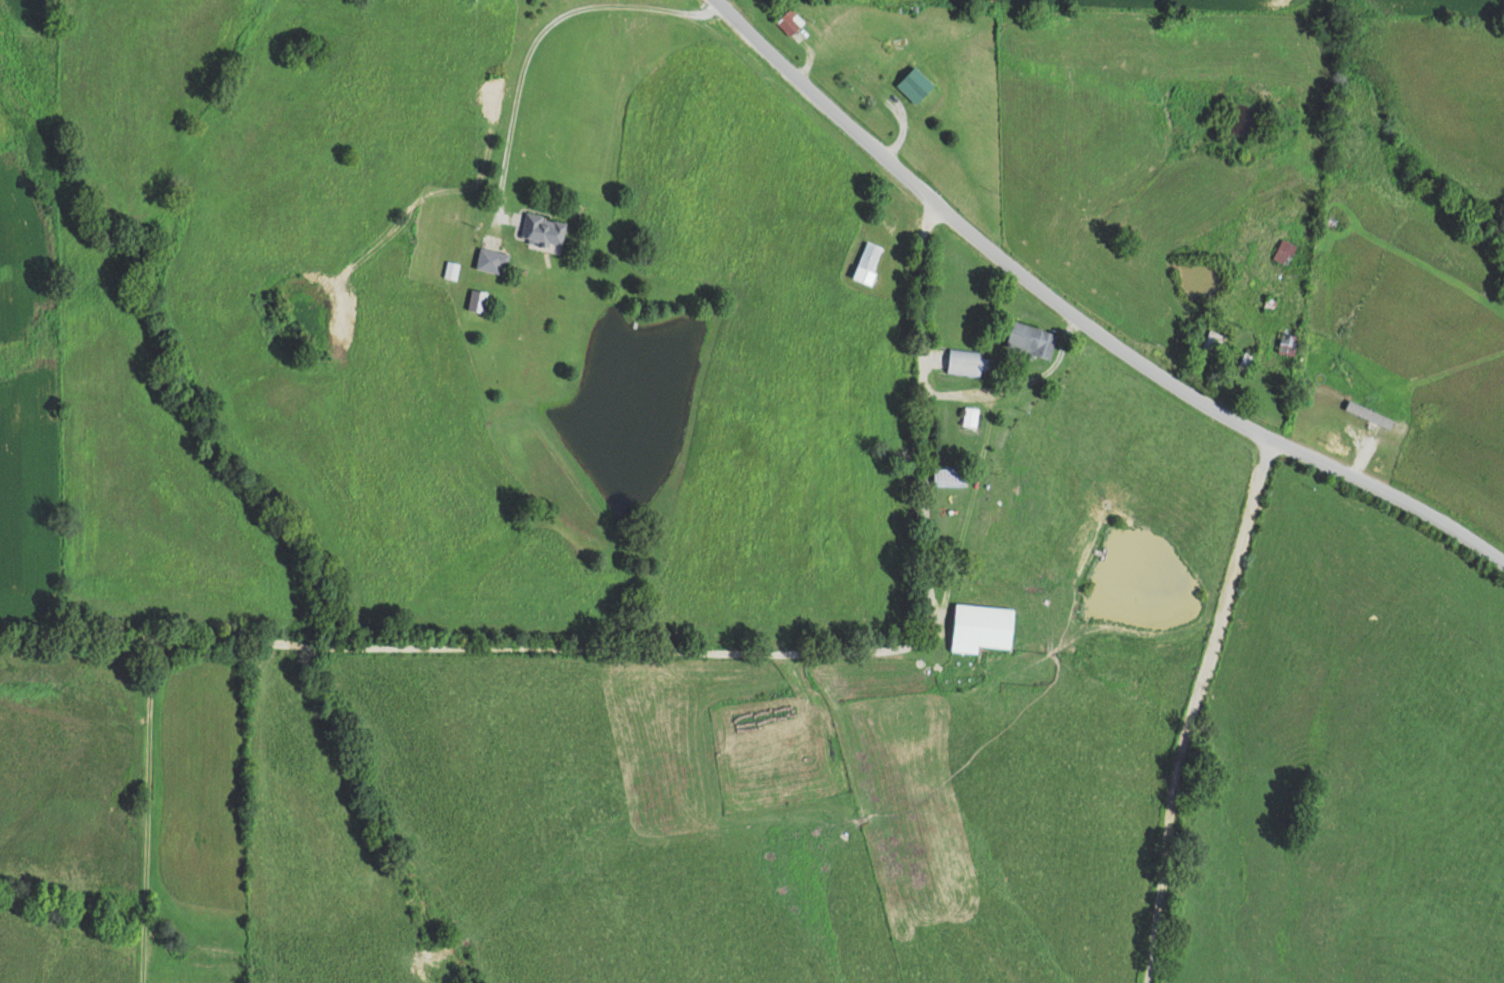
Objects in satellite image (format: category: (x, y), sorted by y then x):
building: (790, 21)
building: (915, 85)
road: (823, 141)
building: (543, 230)
building: (1284, 251)
building: (492, 260)
building: (868, 262)
building: (1032, 340)
building: (1288, 343)
building: (964, 362)
building: (970, 417)
road: (1235, 421)
building: (950, 475)
building: (982, 627)
road: (650, 669)
road: (160, 821)

